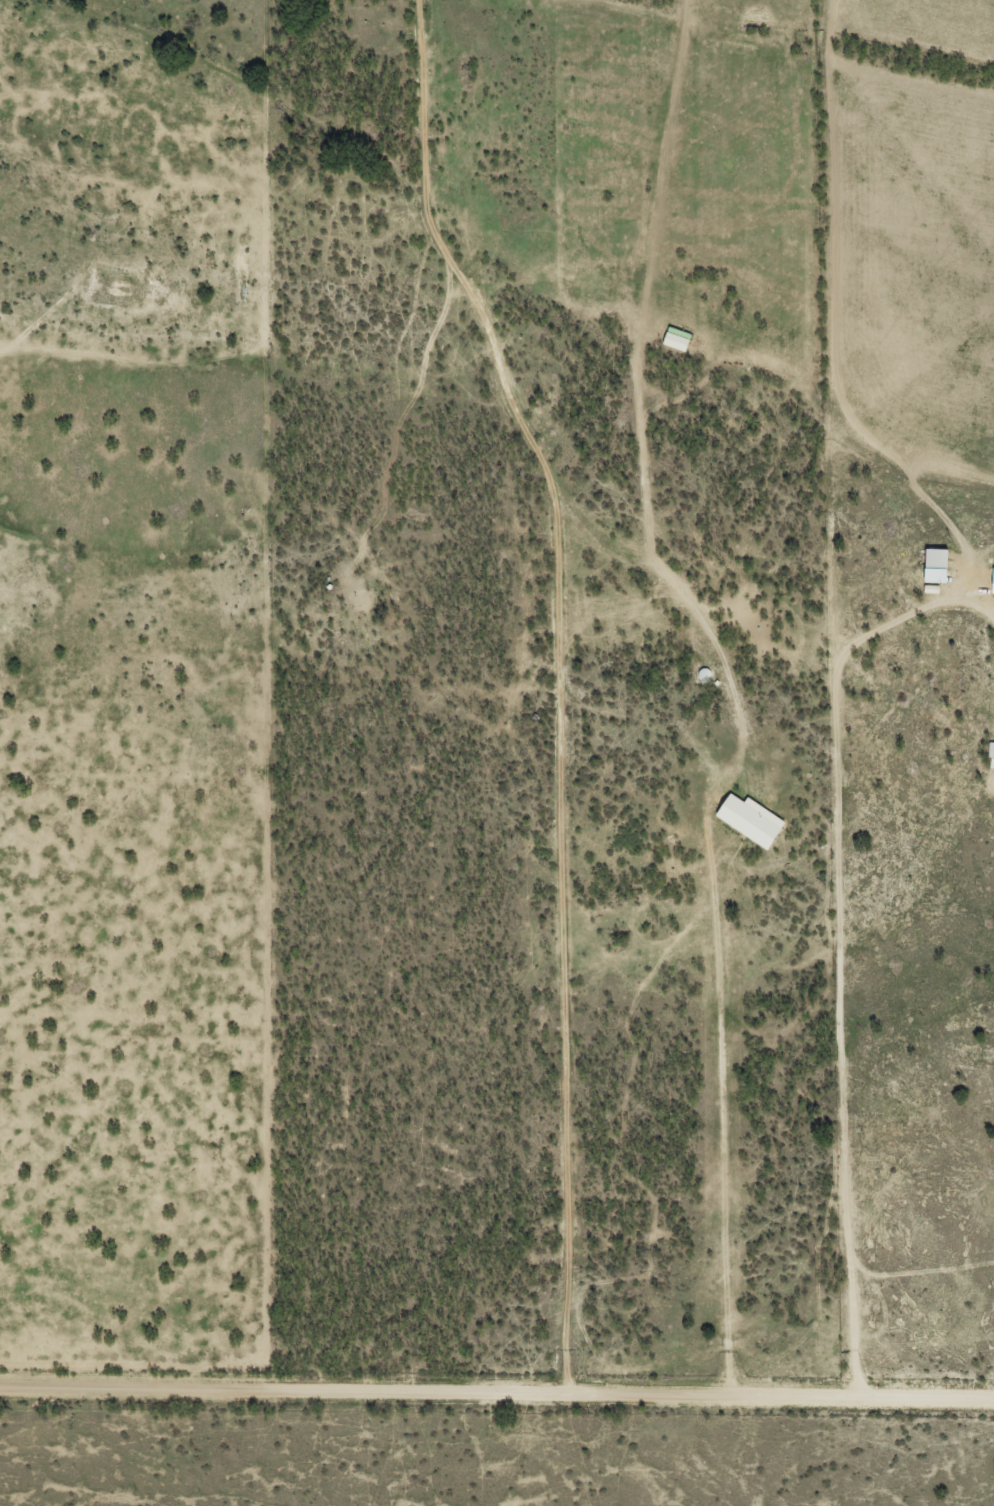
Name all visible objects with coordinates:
road: (719, 651)
building: (755, 820)
road: (496, 1386)

